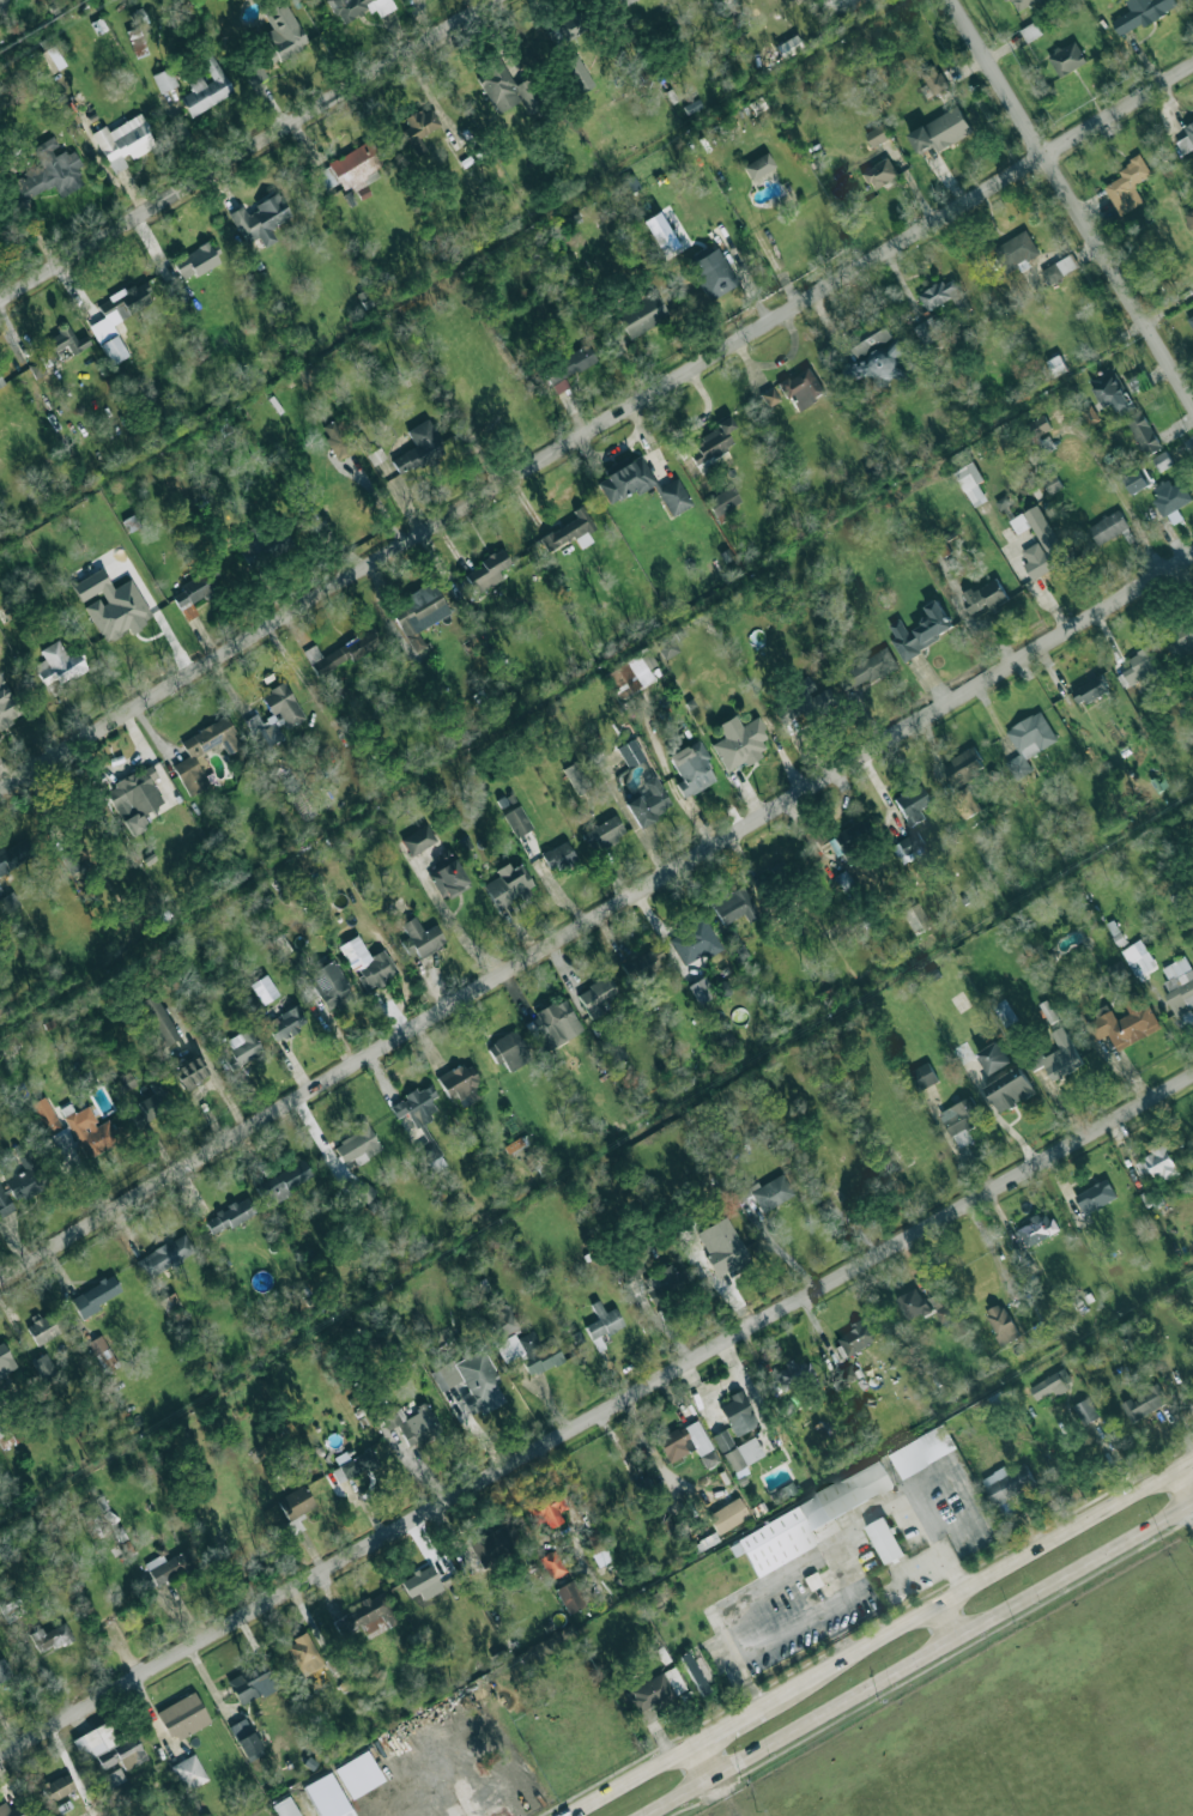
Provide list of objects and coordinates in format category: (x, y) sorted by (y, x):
building: (629, 2)
building: (853, 2)
building: (1022, 4)
building: (2, 6)
building: (357, 7)
building: (1141, 14)
building: (569, 28)
building: (137, 32)
building: (280, 34)
building: (788, 46)
building: (1066, 59)
building: (50, 60)
building: (577, 74)
building: (933, 78)
building: (164, 79)
building: (206, 86)
building: (507, 86)
building: (420, 123)
building: (940, 131)
building: (878, 134)
building: (1186, 139)
building: (123, 141)
road: (248, 151)
building: (757, 165)
building: (349, 170)
building: (879, 172)
building: (49, 175)
building: (1127, 186)
road: (1071, 200)
building: (1188, 218)
building: (260, 219)
building: (1016, 250)
building: (195, 260)
building: (1060, 268)
building: (713, 273)
building: (944, 295)
building: (642, 315)
building: (117, 319)
building: (1191, 319)
building: (928, 329)
building: (59, 345)
building: (877, 353)
building: (1055, 365)
building: (568, 367)
building: (1, 383)
building: (801, 388)
building: (1109, 389)
building: (769, 397)
building: (1038, 425)
road: (595, 428)
building: (1141, 432)
building: (335, 438)
building: (711, 442)
building: (418, 447)
building: (1161, 461)
building: (625, 479)
building: (1137, 480)
building: (970, 483)
building: (673, 497)
building: (1170, 498)
building: (722, 502)
building: (1107, 527)
building: (570, 531)
building: (1038, 543)
building: (195, 591)
building: (985, 595)
building: (111, 604)
building: (418, 618)
building: (919, 631)
building: (1180, 640)
building: (667, 648)
building: (340, 658)
building: (57, 664)
building: (1141, 665)
building: (867, 668)
building: (630, 673)
building: (1089, 690)
building: (810, 695)
building: (6, 704)
building: (783, 713)
building: (273, 716)
building: (738, 741)
building: (1028, 741)
building: (629, 752)
building: (188, 759)
building: (963, 767)
building: (691, 768)
building: (576, 777)
building: (134, 798)
building: (648, 801)
building: (912, 804)
building: (965, 804)
building: (516, 821)
building: (604, 833)
building: (846, 839)
building: (418, 840)
building: (908, 848)
building: (17, 853)
building: (557, 855)
building: (71, 861)
building: (447, 879)
building: (843, 879)
building: (507, 884)
building: (734, 906)
road: (596, 918)
building: (915, 918)
building: (420, 937)
building: (694, 940)
building: (734, 945)
building: (296, 960)
building: (1138, 960)
building: (367, 963)
building: (641, 965)
building: (1179, 983)
building: (329, 985)
building: (264, 988)
building: (701, 989)
building: (596, 993)
building: (1004, 1010)
building: (157, 1019)
building: (286, 1022)
building: (1124, 1022)
building: (555, 1023)
building: (243, 1046)
building: (508, 1049)
building: (613, 1053)
building: (1060, 1055)
building: (993, 1058)
building: (188, 1071)
building: (923, 1076)
building: (123, 1083)
building: (461, 1083)
building: (1010, 1090)
building: (155, 1097)
building: (961, 1120)
building: (420, 1121)
building: (74, 1130)
building: (357, 1144)
building: (1157, 1164)
building: (24, 1178)
building: (281, 1182)
building: (363, 1192)
building: (770, 1192)
building: (1095, 1195)
building: (4, 1204)
building: (230, 1215)
building: (1036, 1229)
building: (722, 1246)
building: (165, 1255)
building: (664, 1283)
building: (482, 1290)
building: (93, 1296)
building: (912, 1303)
building: (941, 1309)
building: (499, 1321)
building: (602, 1322)
building: (1001, 1324)
building: (41, 1328)
building: (859, 1336)
building: (531, 1351)
building: (102, 1354)
building: (5, 1361)
building: (43, 1366)
building: (792, 1373)
building: (472, 1381)
building: (1050, 1384)
building: (1144, 1403)
building: (1084, 1411)
building: (738, 1414)
road: (596, 1416)
building: (413, 1424)
building: (688, 1443)
building: (921, 1451)
building: (737, 1453)
building: (979, 1453)
building: (353, 1464)
building: (1006, 1483)
road: (1183, 1487)
building: (293, 1506)
road: (1192, 1506)
building: (546, 1509)
building: (727, 1515)
road: (571, 1520)
building: (804, 1520)
road: (526, 1526)
building: (884, 1539)
building: (495, 1543)
building: (595, 1545)
building: (550, 1564)
building: (169, 1566)
road: (977, 1580)
road: (782, 1581)
building: (422, 1582)
building: (569, 1596)
building: (367, 1617)
road: (946, 1621)
road: (777, 1635)
building: (52, 1636)
building: (304, 1654)
road: (919, 1658)
building: (4, 1670)
building: (695, 1673)
building: (247, 1682)
building: (654, 1691)
building: (183, 1717)
road: (728, 1723)
building: (246, 1738)
building: (108, 1747)
road: (703, 1760)
building: (188, 1772)
building: (358, 1774)
building: (113, 1778)
road: (629, 1779)
building: (56, 1787)
building: (331, 1792)
building: (284, 1808)
building: (14, 1810)

